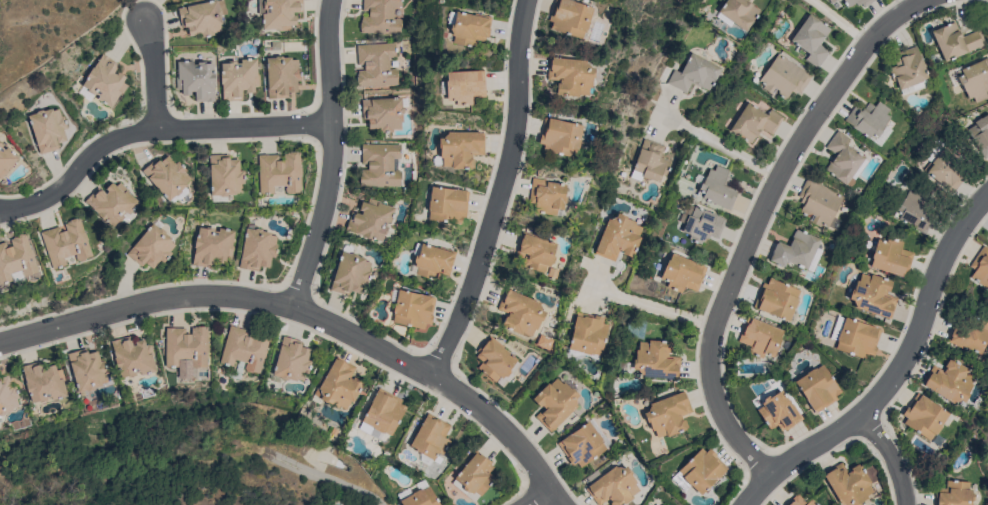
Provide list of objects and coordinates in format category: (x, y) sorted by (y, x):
building: (831, 1)
building: (857, 2)
building: (737, 13)
building: (280, 14)
building: (202, 17)
building: (380, 17)
building: (569, 17)
road: (841, 22)
building: (469, 28)
building: (811, 39)
building: (955, 40)
building: (376, 65)
building: (907, 68)
building: (694, 73)
road: (152, 76)
building: (281, 76)
building: (569, 76)
building: (784, 77)
building: (238, 78)
building: (975, 79)
building: (104, 80)
building: (196, 80)
building: (464, 86)
building: (383, 114)
building: (868, 119)
building: (754, 122)
road: (152, 127)
building: (47, 128)
building: (980, 134)
building: (559, 136)
road: (722, 146)
building: (459, 149)
building: (842, 157)
road: (333, 158)
building: (6, 160)
building: (649, 161)
building: (380, 164)
building: (947, 169)
building: (279, 173)
building: (225, 175)
building: (167, 177)
building: (717, 187)
road: (497, 194)
building: (546, 195)
building: (111, 202)
building: (818, 202)
building: (447, 204)
building: (915, 210)
building: (370, 219)
road: (760, 221)
building: (702, 225)
building: (618, 238)
building: (65, 242)
building: (212, 246)
building: (151, 247)
building: (257, 248)
building: (795, 250)
building: (537, 252)
building: (891, 257)
building: (16, 258)
building: (433, 262)
building: (980, 267)
building: (682, 273)
building: (350, 274)
building: (873, 295)
building: (776, 299)
road: (655, 307)
building: (413, 309)
building: (520, 312)
road: (310, 319)
building: (969, 333)
building: (587, 334)
building: (759, 337)
building: (857, 338)
building: (185, 345)
building: (243, 350)
building: (132, 356)
building: (494, 358)
building: (291, 360)
building: (653, 360)
building: (87, 369)
road: (898, 375)
building: (949, 380)
building: (43, 381)
building: (338, 384)
building: (817, 388)
building: (7, 395)
building: (554, 403)
building: (383, 411)
building: (778, 411)
building: (668, 414)
building: (924, 416)
building: (430, 436)
building: (584, 443)
road: (893, 458)
building: (699, 470)
building: (474, 476)
building: (848, 483)
building: (613, 486)
building: (954, 494)
building: (420, 498)
road: (544, 501)
building: (799, 501)

